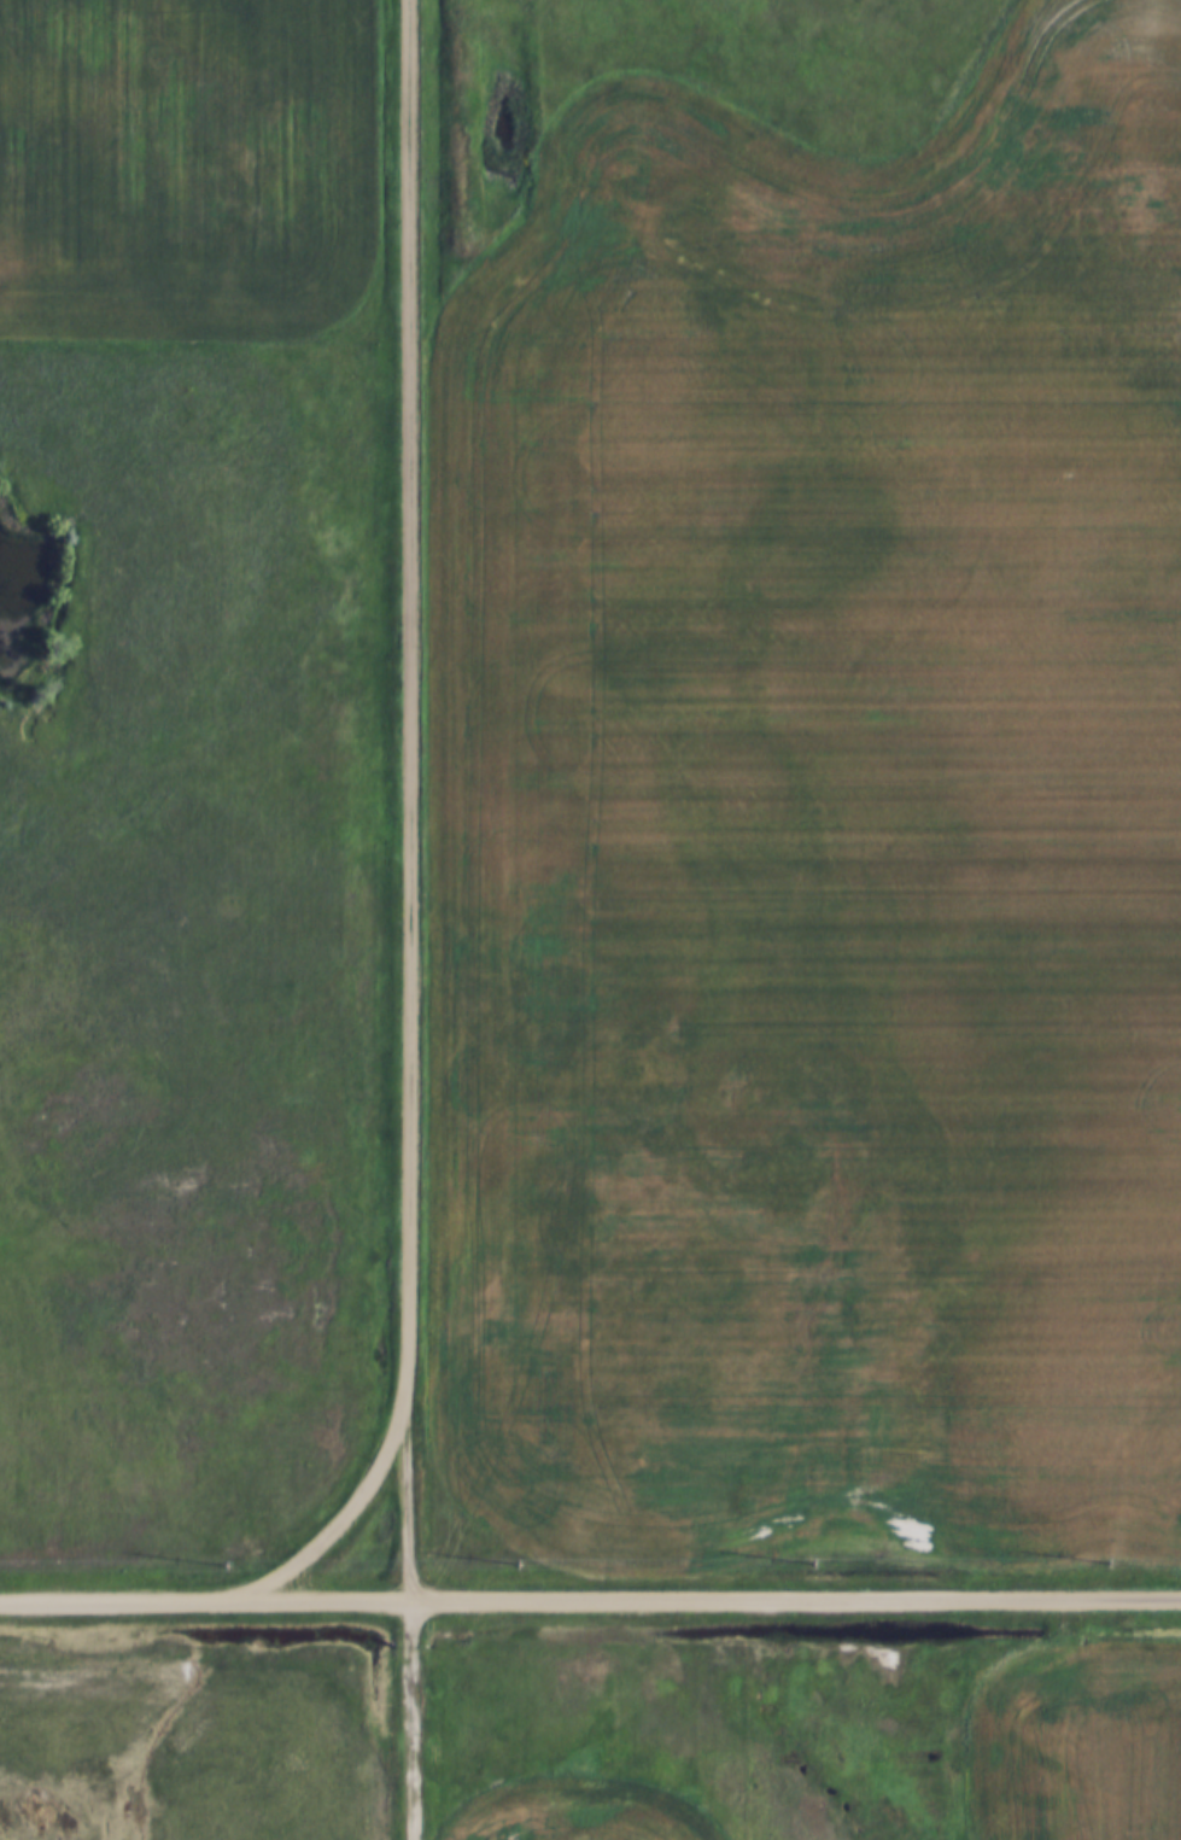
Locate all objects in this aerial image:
road: (413, 801)
road: (333, 1532)
road: (590, 1600)
road: (411, 1721)

